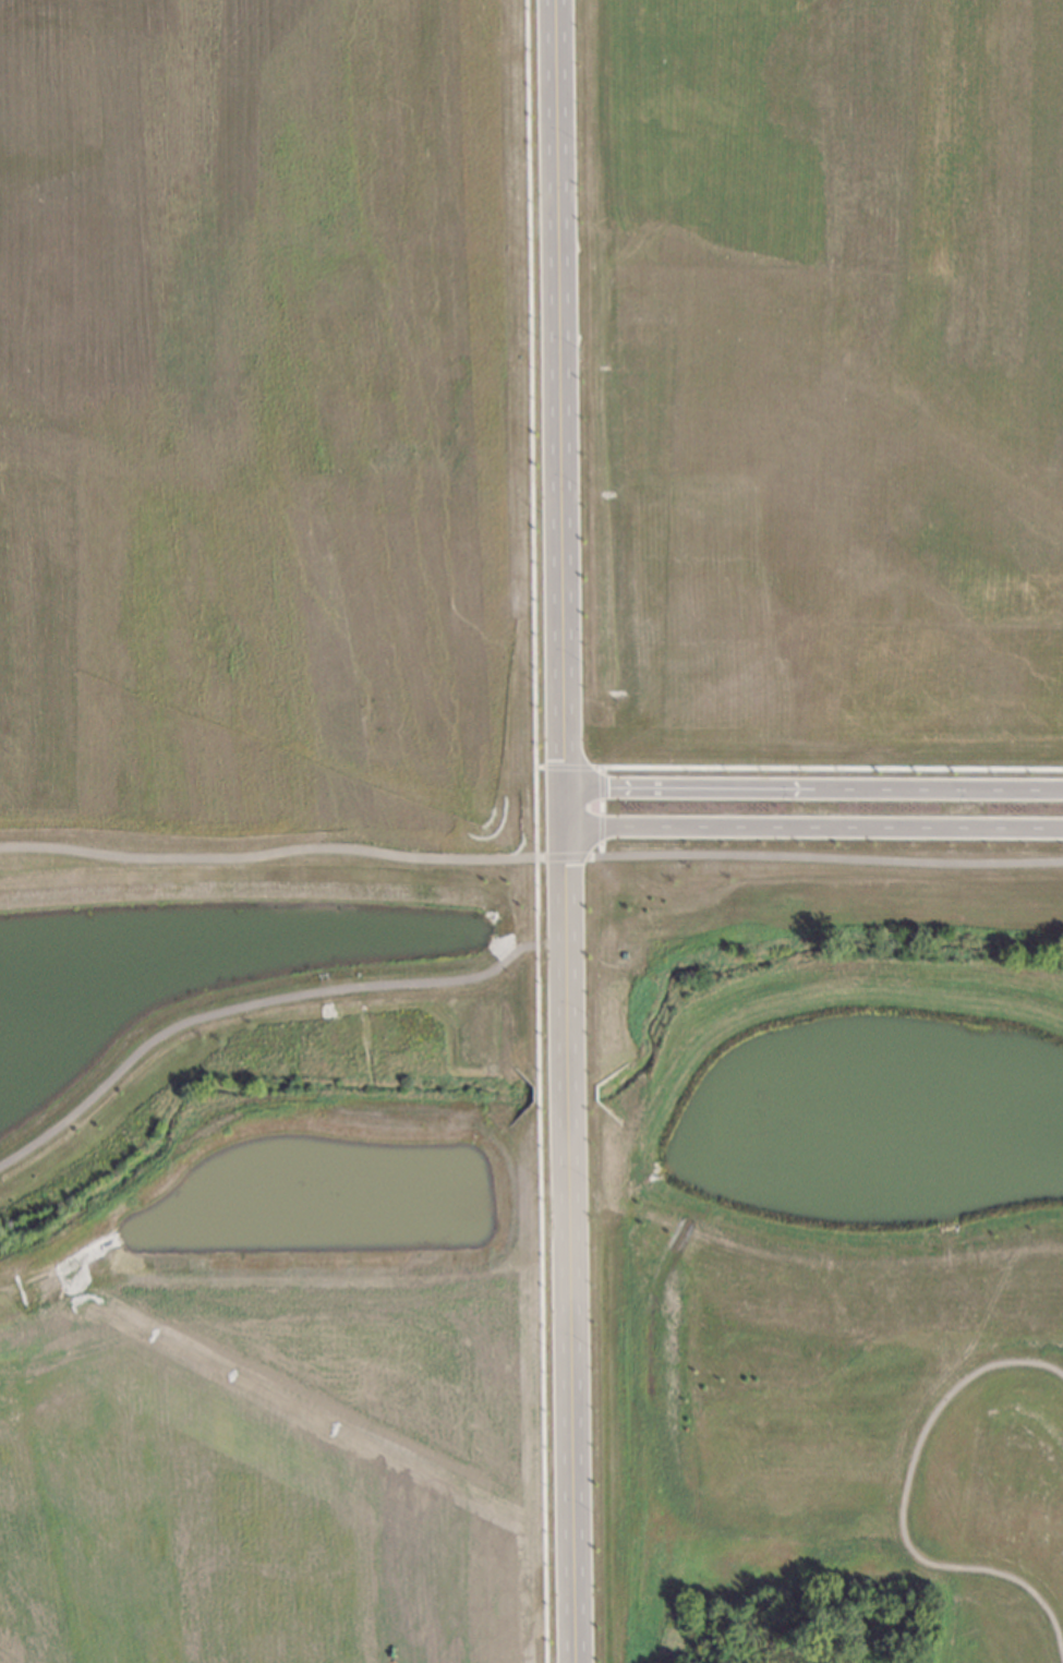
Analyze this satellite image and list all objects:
road: (810, 790)
road: (811, 829)
road: (559, 831)
road: (744, 856)

